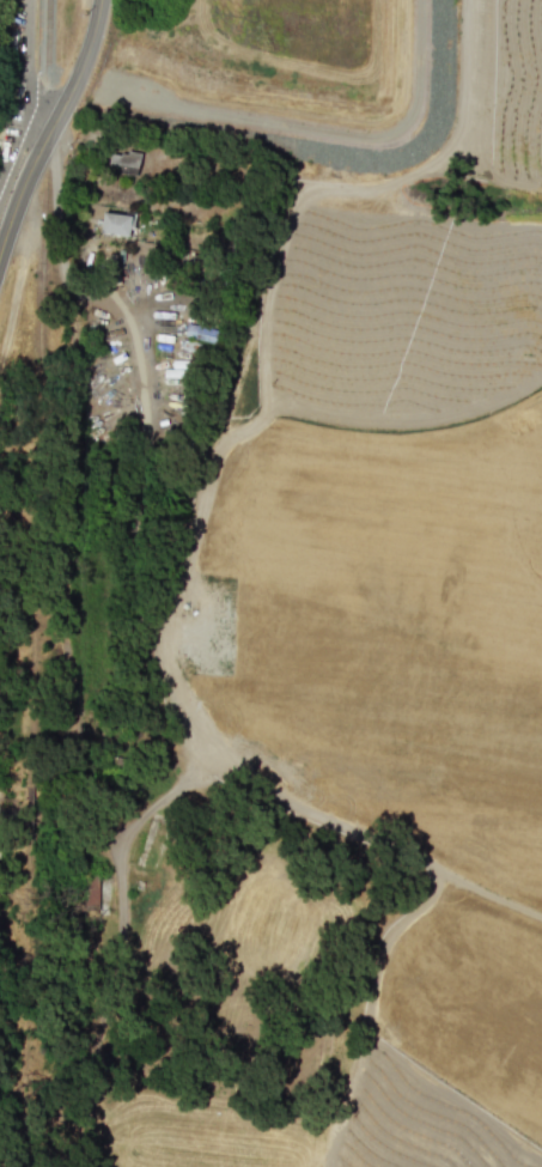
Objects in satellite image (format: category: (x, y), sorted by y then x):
road: (79, 75)
building: (123, 163)
road: (18, 200)
building: (117, 223)
building: (200, 332)
railway: (37, 583)

